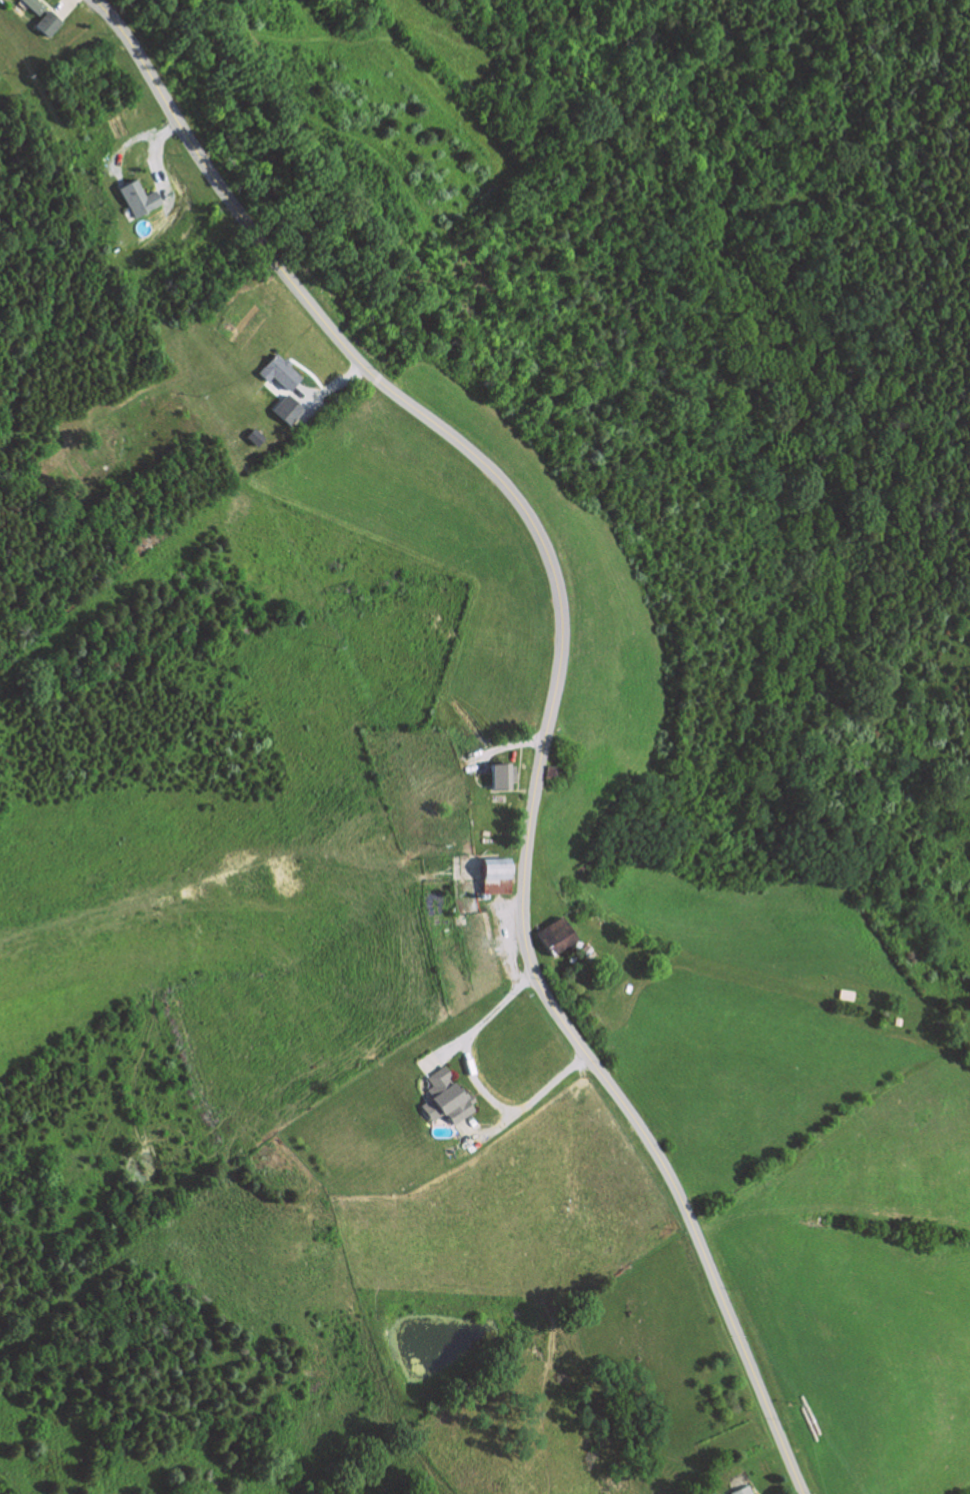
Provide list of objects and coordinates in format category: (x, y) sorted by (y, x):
road: (15, 8)
road: (65, 8)
building: (46, 17)
road: (125, 146)
road: (159, 161)
building: (143, 197)
building: (280, 372)
road: (330, 386)
building: (287, 409)
road: (550, 698)
road: (506, 745)
building: (503, 775)
building: (497, 876)
building: (557, 935)
building: (585, 949)
building: (847, 994)
building: (898, 1020)
road: (444, 1051)
road: (476, 1082)
building: (447, 1097)
road: (487, 1129)
building: (742, 1490)

